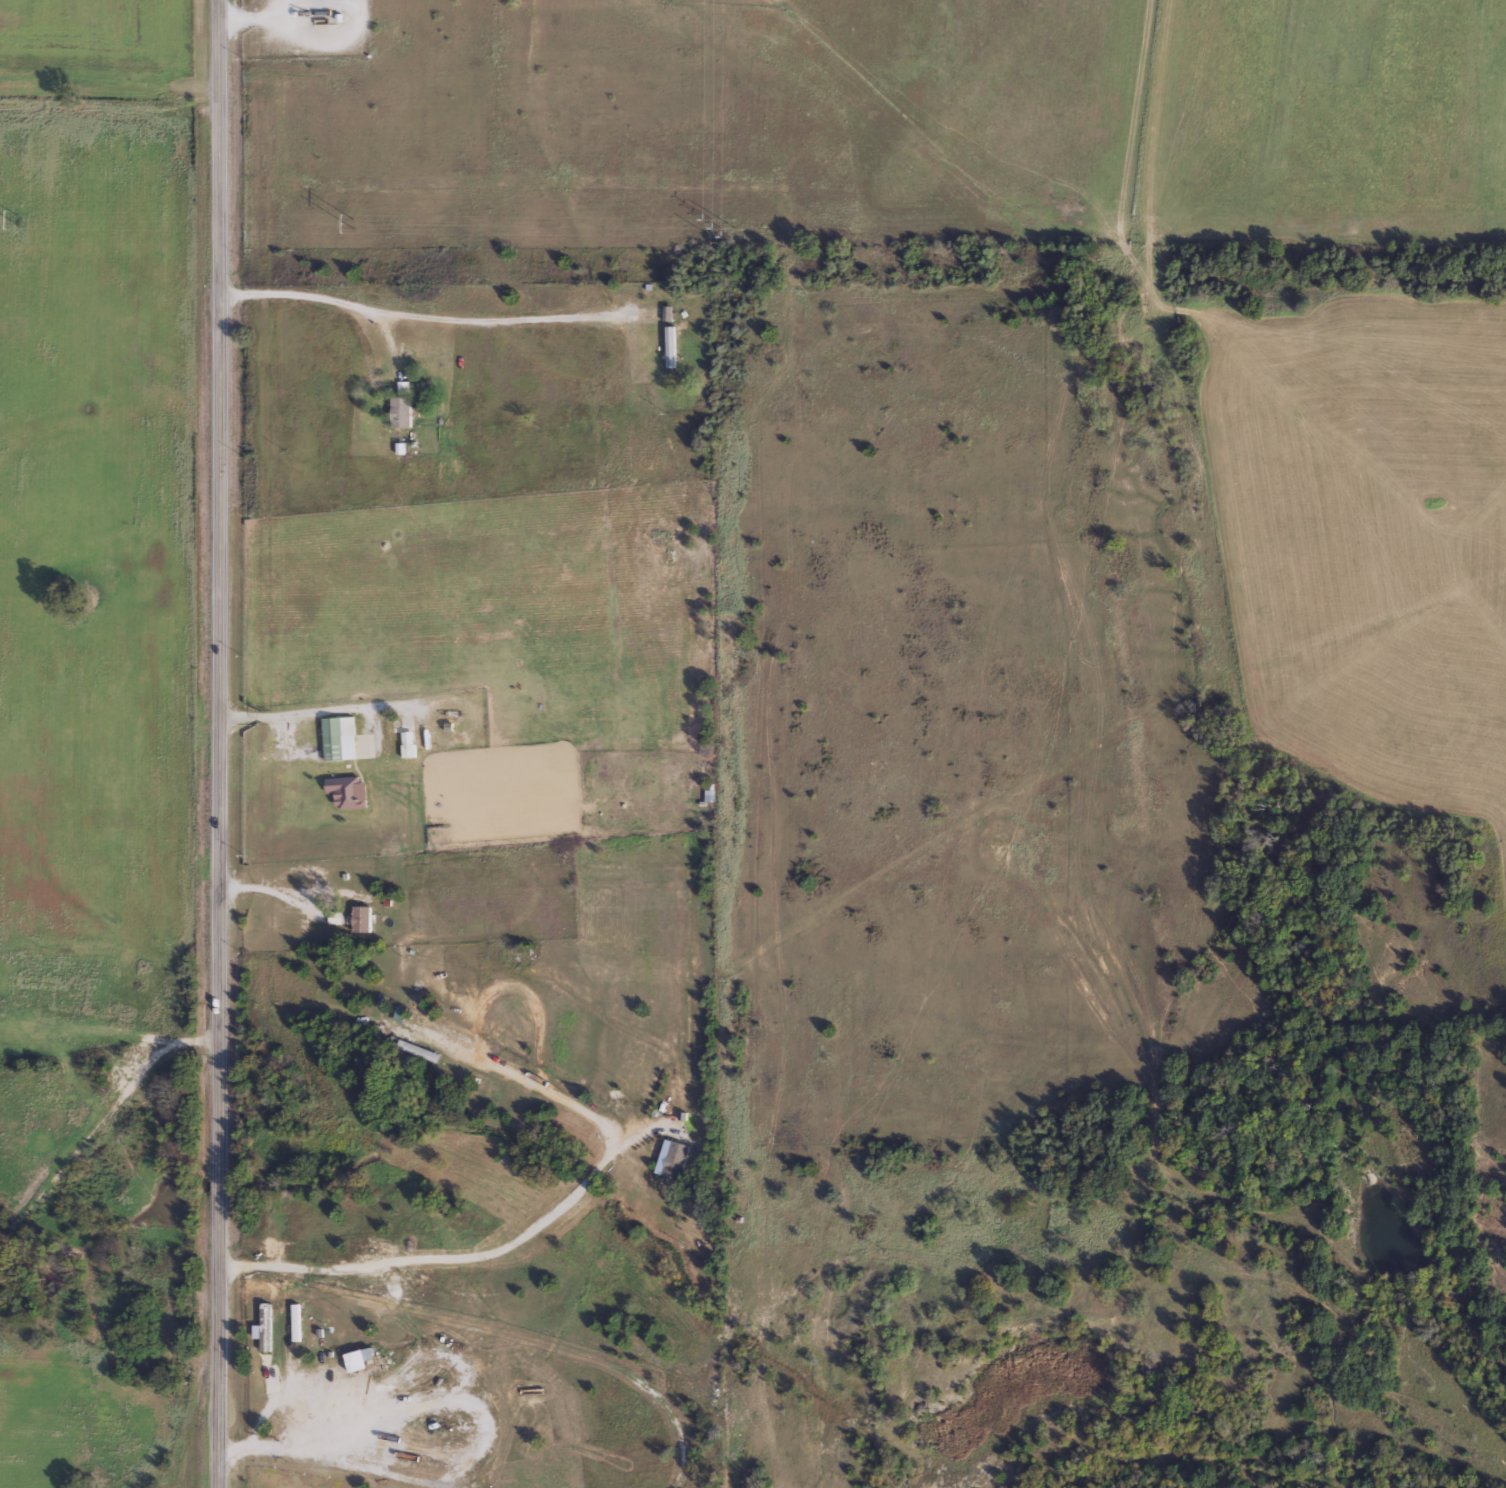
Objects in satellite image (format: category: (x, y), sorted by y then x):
building: (665, 312)
road: (421, 313)
building: (671, 336)
building: (399, 411)
building: (519, 414)
road: (314, 709)
road: (220, 743)
building: (407, 743)
building: (332, 747)
building: (359, 918)
building: (513, 952)
building: (416, 1049)
building: (672, 1158)
road: (512, 1241)
building: (294, 1320)
building: (262, 1325)

